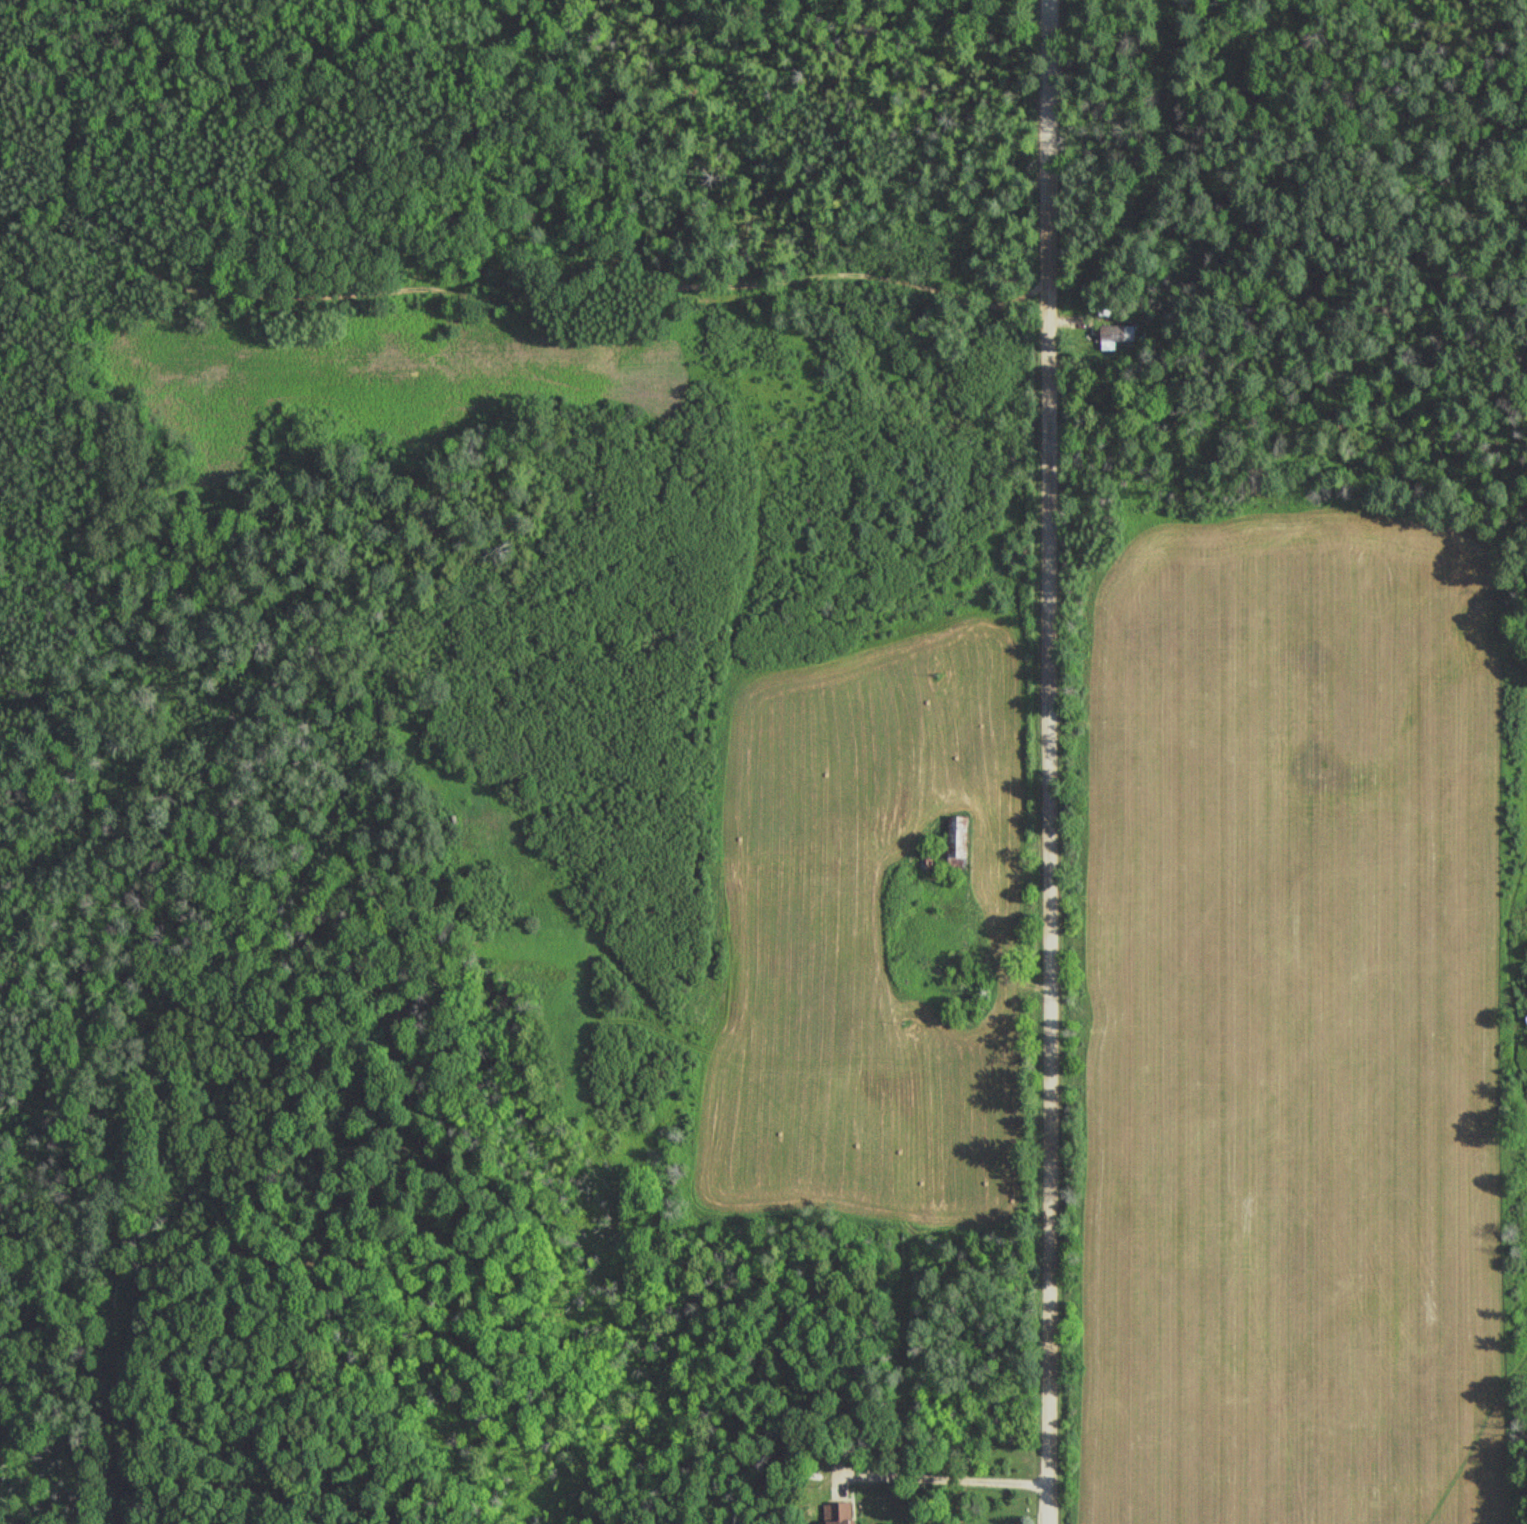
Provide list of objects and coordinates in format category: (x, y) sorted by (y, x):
building: (1115, 336)
road: (1054, 762)
building: (958, 845)

